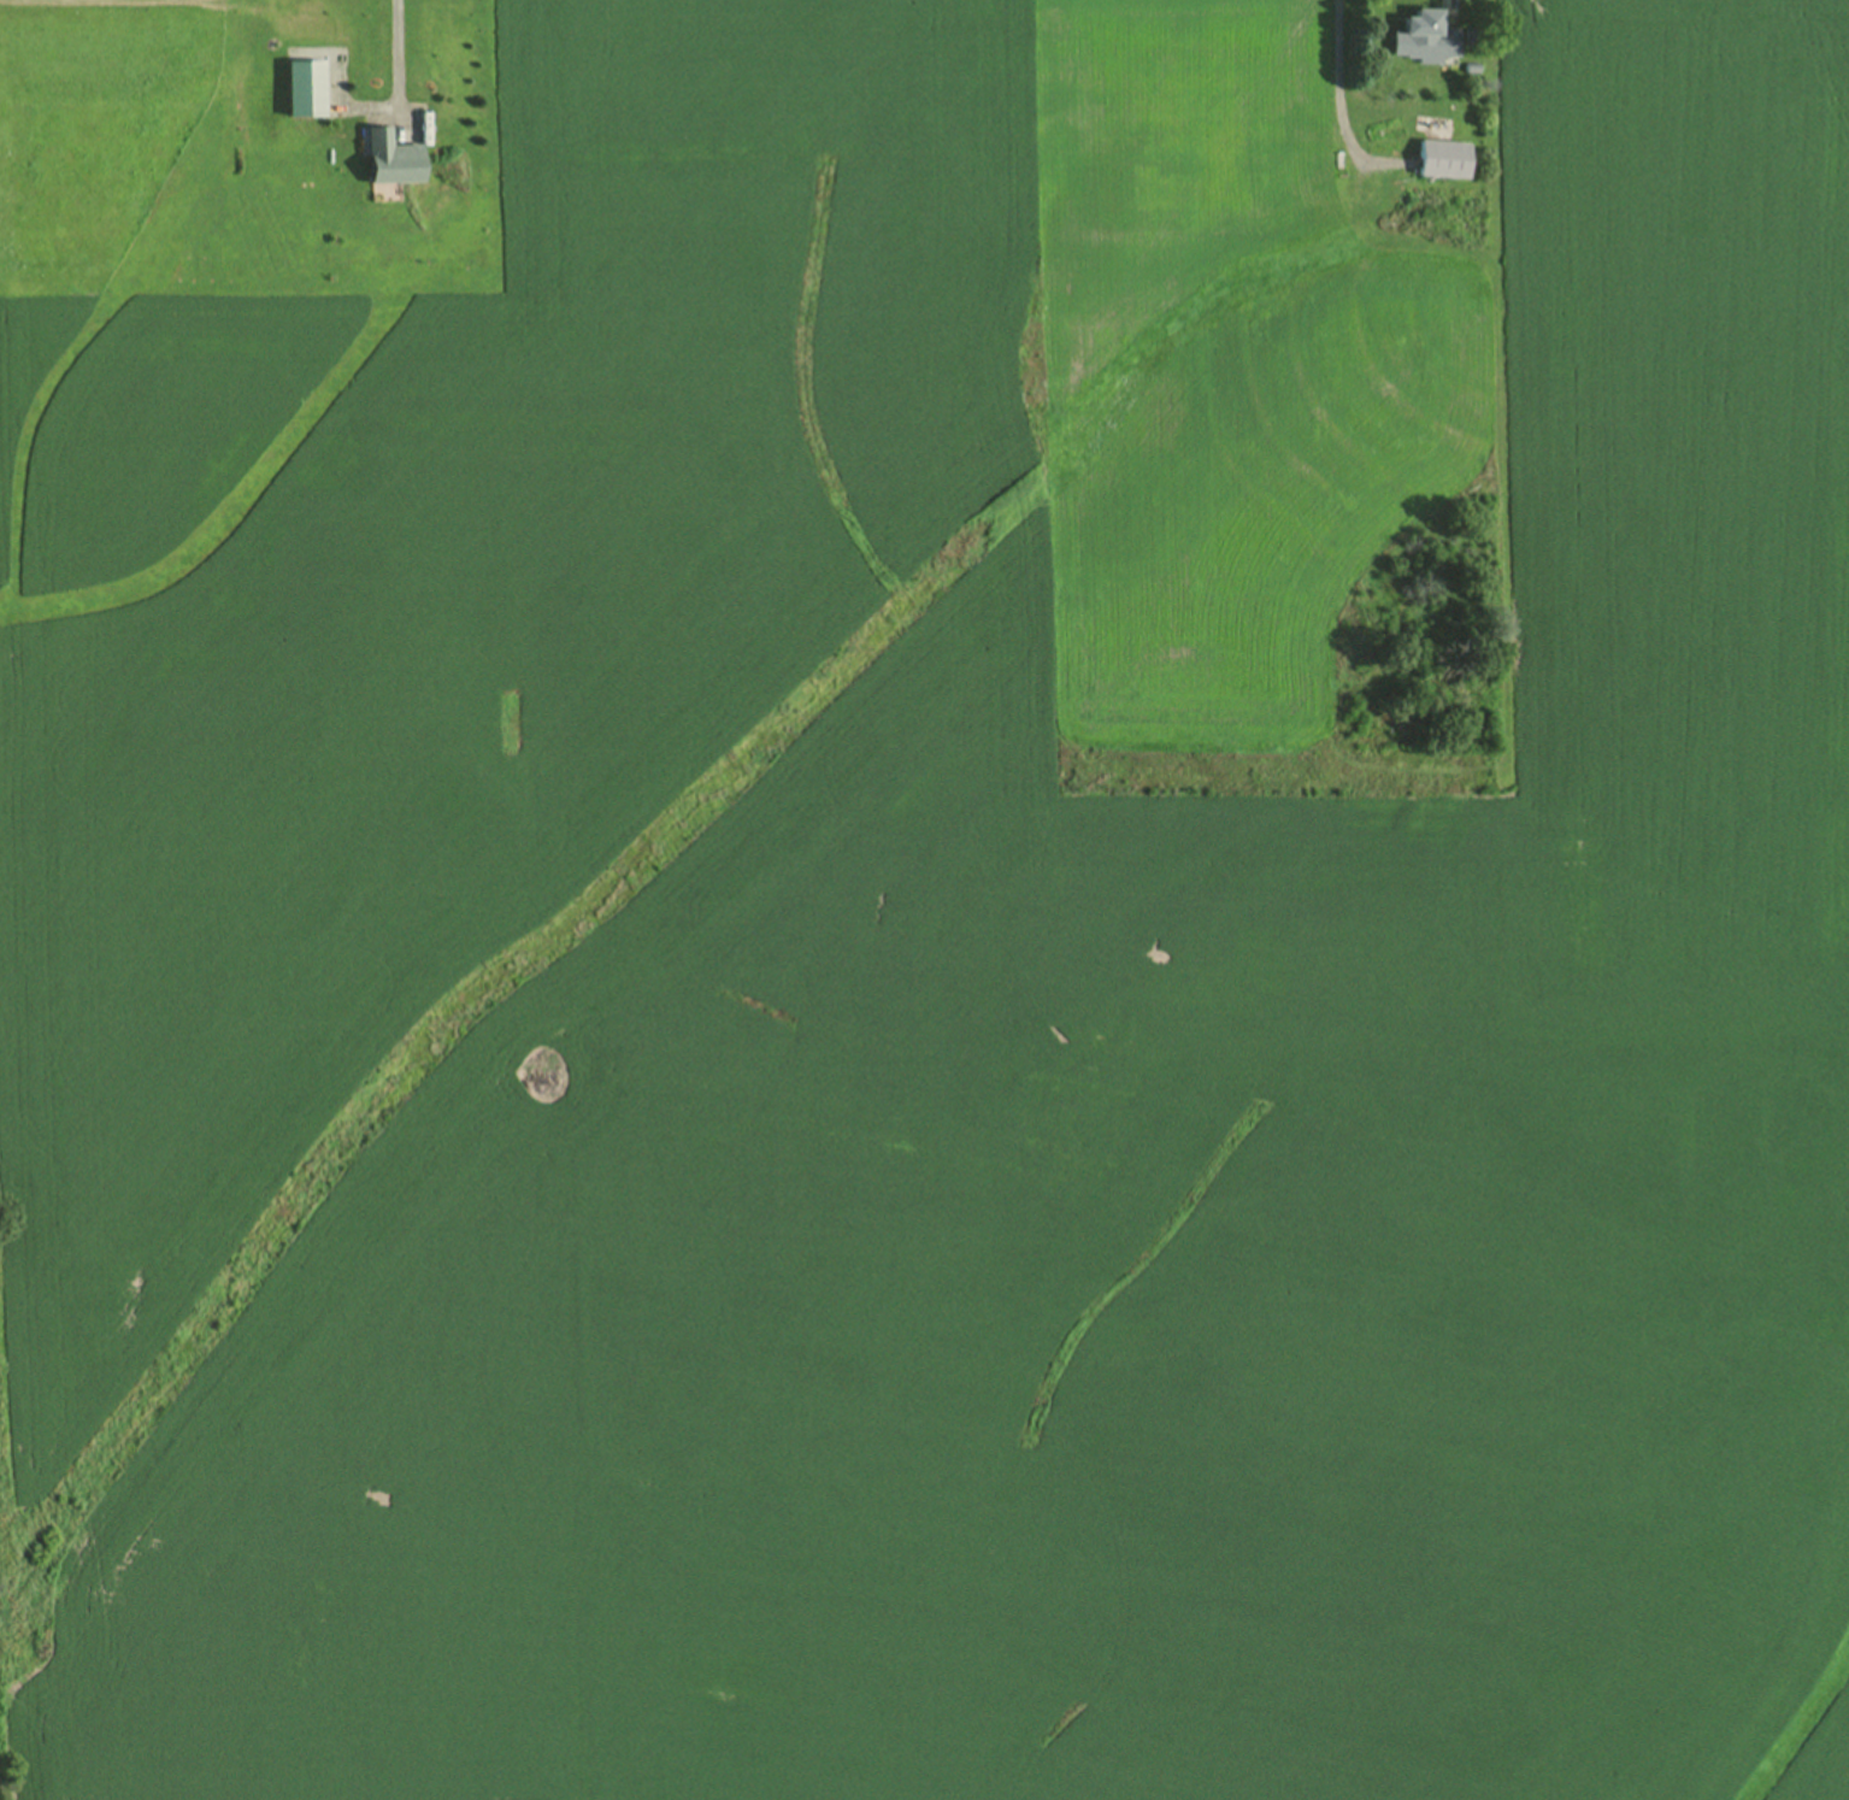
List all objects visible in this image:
building: (1426, 42)
building: (393, 157)

